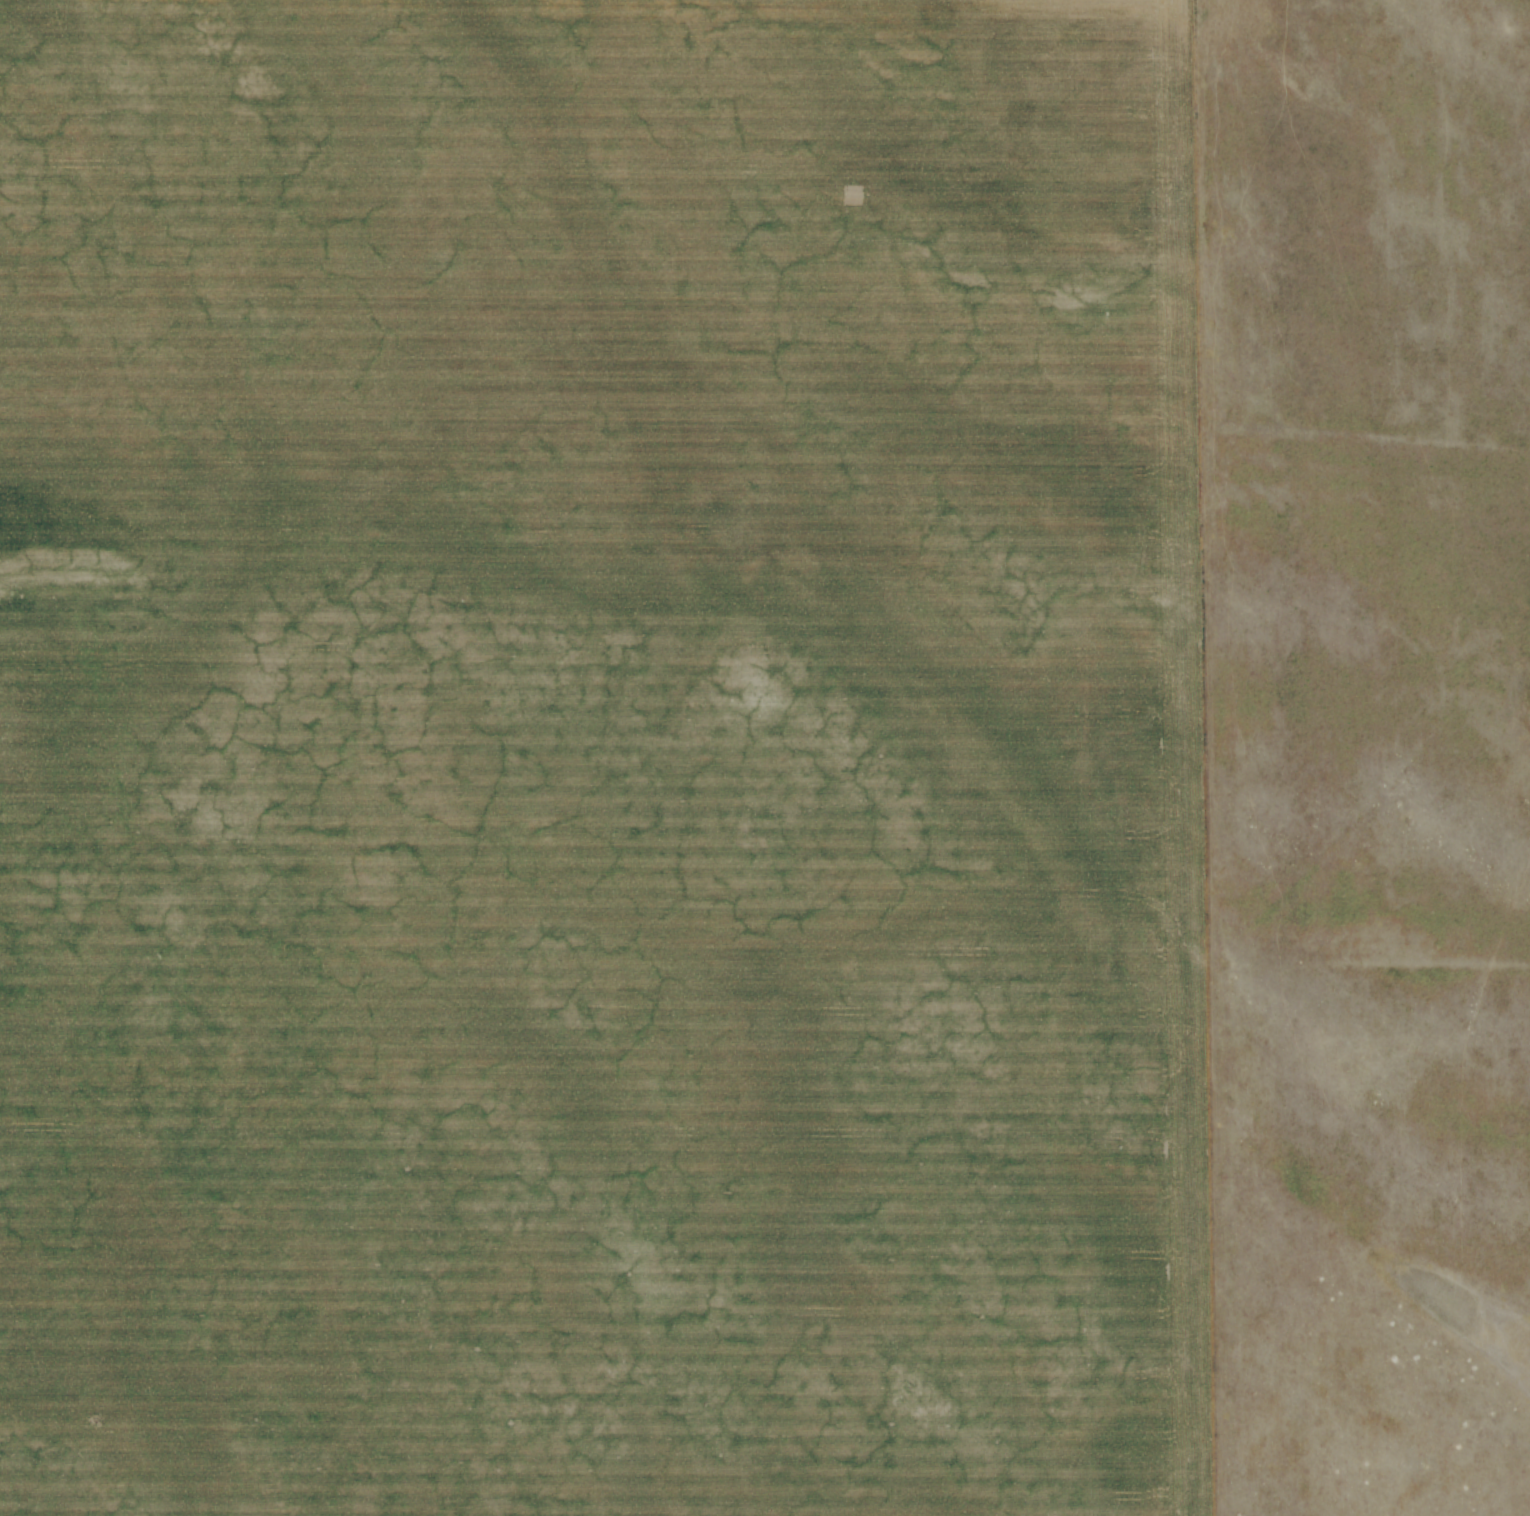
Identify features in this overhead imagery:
crop: (600, 759)

